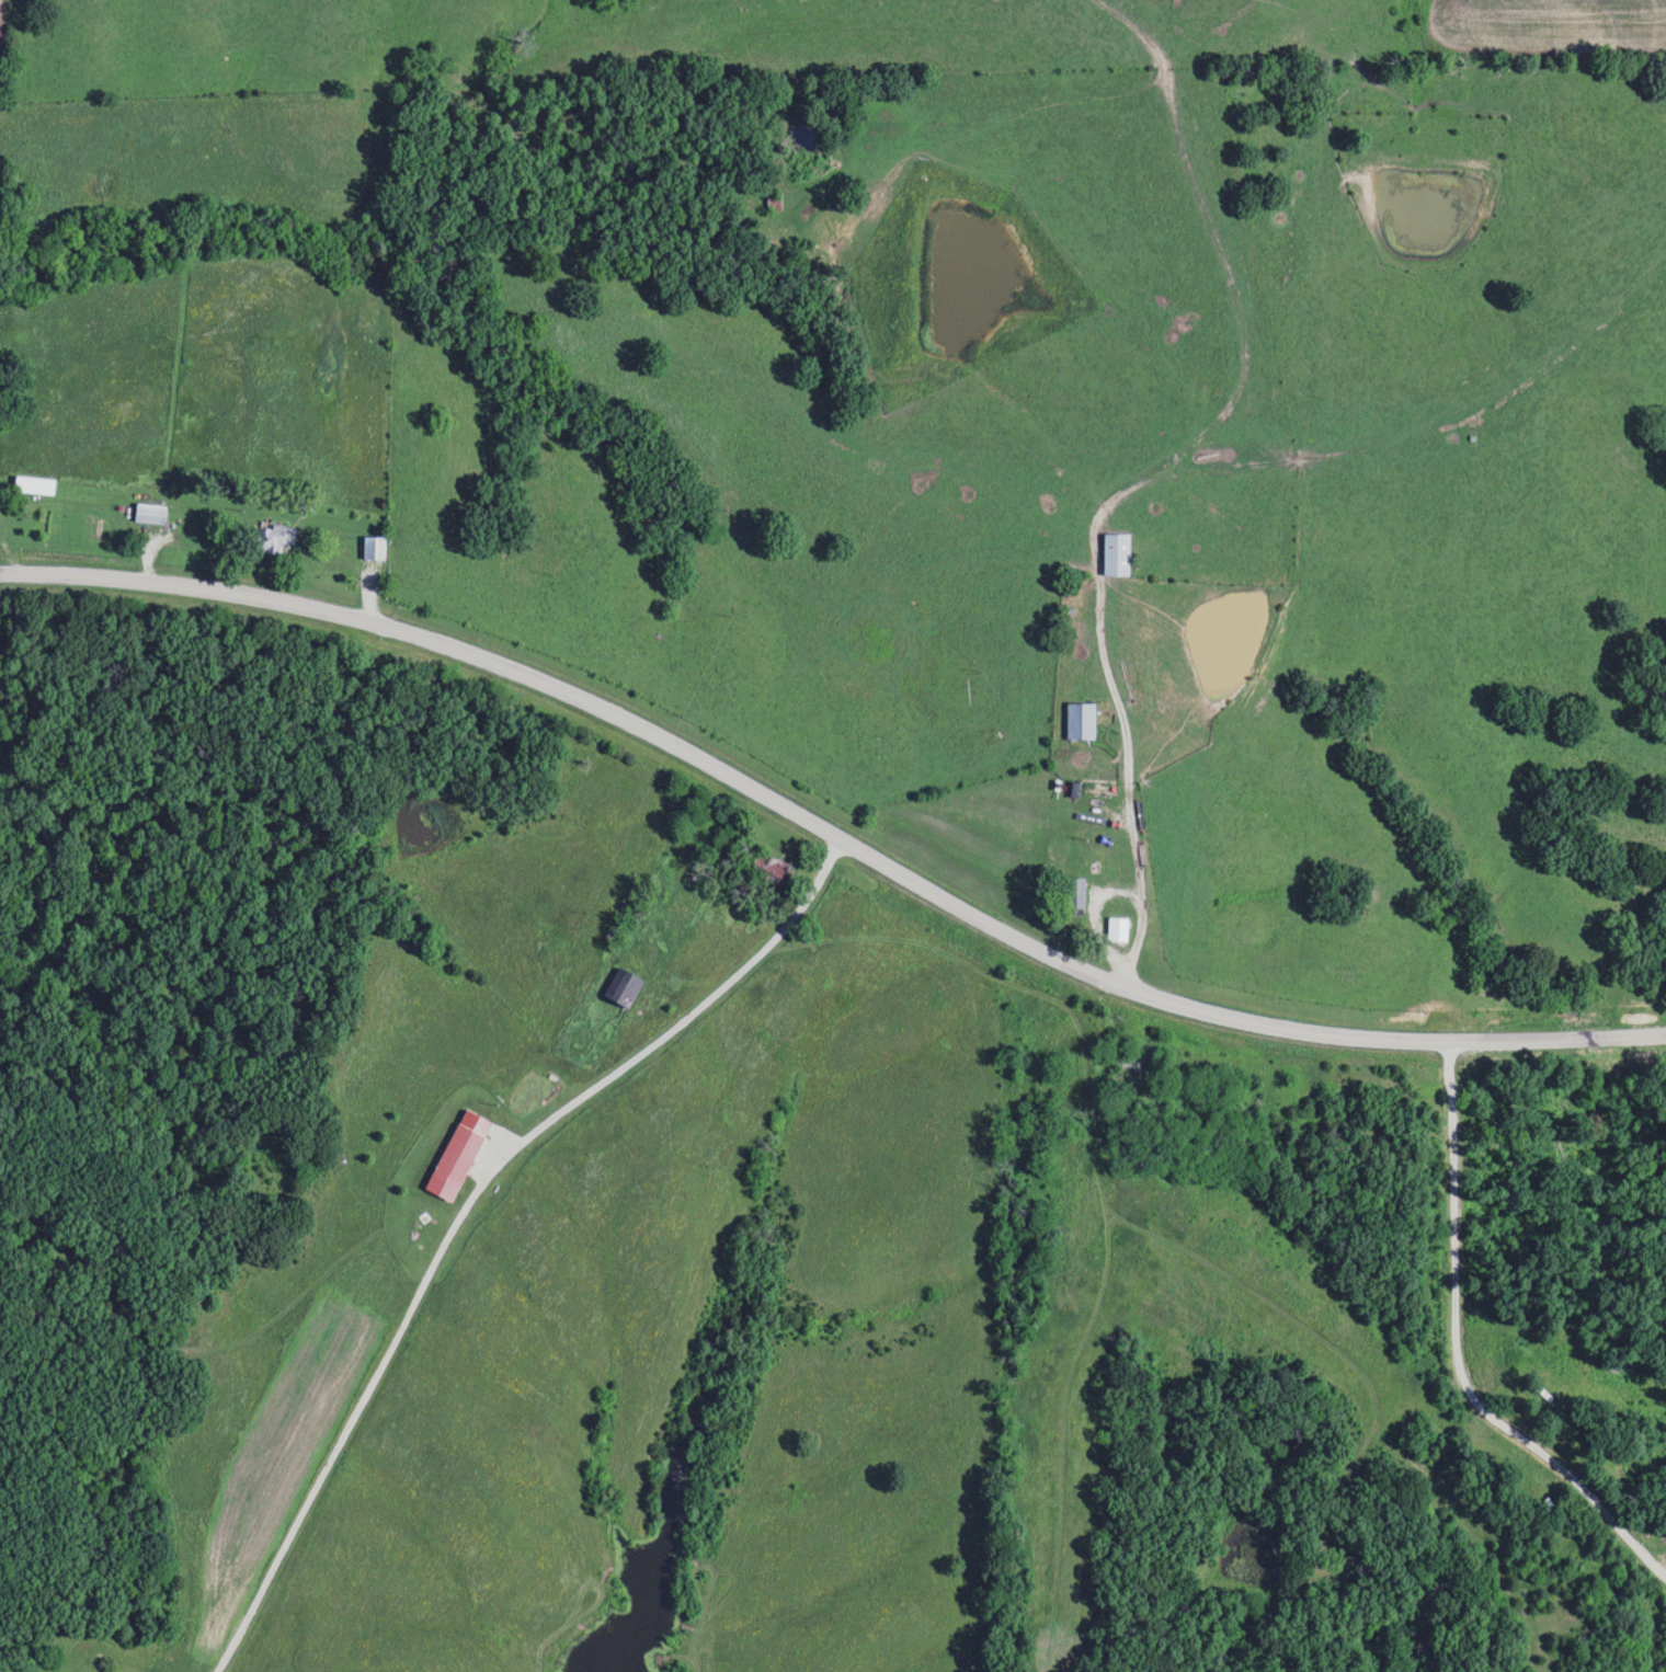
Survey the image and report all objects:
building: (33, 485)
building: (149, 514)
building: (273, 539)
building: (373, 549)
building: (1115, 556)
building: (1079, 721)
road: (1125, 777)
road: (830, 835)
building: (766, 872)
building: (1074, 896)
building: (1117, 930)
road: (758, 953)
building: (623, 986)
building: (454, 1163)
road: (1456, 1360)

